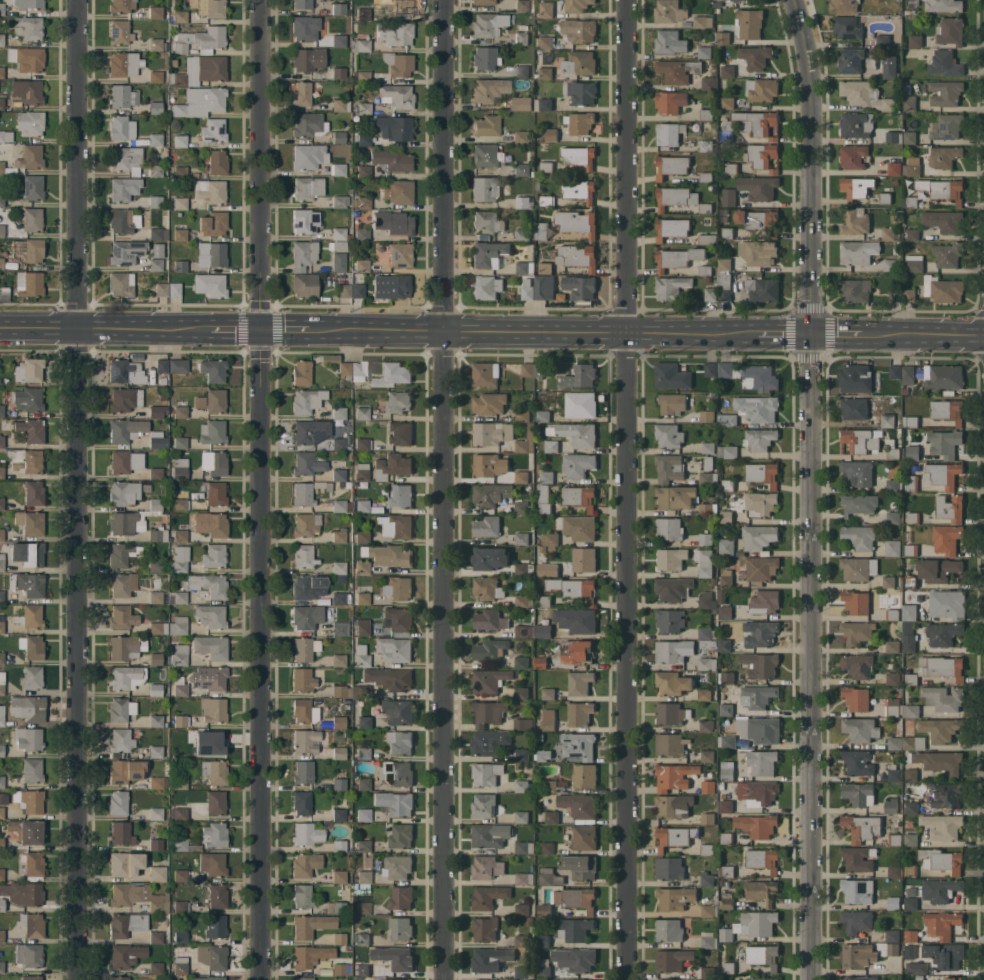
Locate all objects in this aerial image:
building: (736, 0)
building: (483, 2)
building: (25, 4)
building: (302, 4)
building: (522, 5)
building: (577, 5)
building: (844, 5)
building: (945, 5)
building: (121, 6)
building: (209, 7)
building: (402, 7)
building: (2, 9)
building: (338, 9)
building: (547, 9)
building: (717, 9)
building: (669, 11)
building: (155, 13)
building: (363, 14)
building: (180, 17)
building: (703, 21)
building: (749, 23)
building: (487, 25)
building: (848, 26)
building: (173, 27)
building: (27, 28)
building: (302, 29)
building: (579, 29)
building: (951, 30)
building: (119, 32)
building: (394, 33)
building: (724, 37)
building: (521, 38)
building: (2, 40)
building: (200, 40)
building: (883, 40)
building: (916, 40)
building: (338, 41)
building: (670, 41)
building: (544, 42)
building: (155, 45)
building: (361, 46)
building: (723, 46)
building: (704, 52)
building: (756, 56)
building: (485, 58)
building: (26, 59)
building: (308, 59)
building: (851, 60)
building: (580, 62)
building: (945, 63)
building: (123, 64)
building: (398, 64)
building: (200, 70)
building: (522, 70)
building: (677, 70)
building: (728, 70)
building: (1, 72)
building: (890, 72)
building: (338, 73)
building: (546, 73)
building: (155, 77)
building: (363, 77)
building: (530, 80)
building: (708, 82)
building: (761, 89)
building: (907, 89)
building: (489, 90)
building: (580, 91)
building: (27, 92)
building: (860, 92)
building: (946, 92)
building: (301, 94)
building: (122, 96)
building: (396, 96)
building: (670, 101)
building: (200, 102)
building: (521, 102)
building: (727, 102)
building: (1, 103)
building: (910, 103)
building: (544, 104)
building: (888, 104)
building: (340, 105)
building: (155, 108)
building: (362, 109)
building: (706, 114)
building: (580, 122)
building: (758, 122)
building: (30, 123)
building: (856, 124)
building: (309, 125)
building: (486, 126)
building: (947, 126)
building: (393, 127)
building: (121, 128)
building: (727, 130)
building: (213, 131)
building: (669, 133)
building: (551, 134)
building: (522, 136)
building: (893, 136)
building: (6, 137)
building: (338, 137)
building: (908, 137)
building: (155, 140)
building: (364, 140)
building: (180, 141)
building: (709, 145)
building: (486, 156)
building: (579, 156)
building: (763, 156)
building: (853, 156)
building: (944, 156)
building: (31, 157)
building: (309, 157)
building: (126, 160)
building: (391, 160)
building: (217, 162)
building: (671, 165)
building: (546, 166)
building: (912, 166)
building: (2, 168)
building: (731, 168)
building: (894, 168)
building: (523, 169)
building: (155, 170)
building: (339, 170)
building: (363, 171)
building: (180, 172)
building: (706, 176)
building: (896, 182)
building: (538, 185)
building: (33, 187)
building: (759, 187)
building: (856, 187)
building: (307, 188)
building: (485, 189)
building: (579, 189)
building: (942, 189)
building: (122, 190)
building: (210, 192)
building: (398, 192)
building: (674, 197)
building: (729, 197)
building: (885, 197)
building: (2, 200)
building: (546, 200)
building: (155, 201)
building: (339, 201)
building: (361, 202)
building: (524, 202)
building: (180, 203)
building: (706, 208)
building: (32, 219)
building: (944, 220)
building: (120, 221)
building: (301, 221)
building: (488, 221)
building: (762, 221)
building: (577, 222)
building: (856, 222)
building: (393, 223)
building: (213, 224)
building: (672, 228)
building: (541, 230)
building: (2, 231)
building: (728, 232)
building: (891, 233)
building: (913, 233)
building: (158, 234)
building: (340, 234)
building: (522, 234)
building: (180, 235)
building: (362, 235)
building: (708, 239)
building: (338, 246)
building: (34, 250)
building: (157, 250)
building: (858, 251)
building: (125, 252)
building: (761, 252)
building: (211, 254)
building: (491, 254)
building: (948, 254)
building: (302, 255)
building: (400, 255)
building: (578, 256)
building: (678, 257)
building: (338, 262)
building: (914, 263)
building: (1, 264)
building: (725, 264)
building: (155, 265)
building: (893, 265)
building: (180, 266)
building: (362, 266)
building: (546, 267)
building: (526, 268)
building: (705, 270)
building: (708, 278)
building: (29, 284)
building: (121, 284)
building: (210, 285)
building: (305, 286)
building: (391, 286)
building: (487, 286)
building: (580, 286)
building: (725, 286)
building: (545, 287)
building: (671, 287)
building: (174, 289)
building: (527, 289)
building: (762, 289)
building: (855, 289)
building: (944, 289)
building: (161, 290)
building: (344, 291)
building: (358, 291)
building: (711, 293)
building: (896, 295)
building: (909, 295)
road: (106, 330)
road: (235, 331)
road: (286, 331)
road: (534, 332)
road: (783, 333)
traffic signals: (812, 334)
road: (839, 334)
road: (925, 334)
building: (161, 366)
building: (178, 366)
building: (541, 368)
building: (345, 369)
building: (528, 369)
building: (711, 369)
building: (726, 369)
building: (28, 370)
building: (213, 370)
building: (360, 370)
building: (125, 371)
building: (896, 371)
building: (301, 373)
building: (486, 373)
building: (667, 374)
building: (909, 374)
building: (392, 375)
building: (580, 376)
building: (858, 376)
building: (944, 376)
building: (759, 377)
building: (162, 381)
building: (906, 390)
building: (538, 394)
building: (162, 397)
building: (125, 399)
building: (27, 400)
building: (212, 401)
building: (307, 401)
building: (397, 401)
building: (490, 403)
building: (582, 403)
building: (673, 403)
building: (758, 407)
building: (857, 407)
building: (180, 409)
building: (947, 409)
building: (2, 411)
building: (157, 411)
building: (338, 413)
building: (362, 413)
building: (523, 414)
building: (543, 415)
building: (708, 416)
building: (728, 419)
building: (888, 419)
building: (910, 421)
building: (31, 430)
building: (125, 430)
building: (551, 430)
building: (311, 431)
building: (212, 432)
building: (400, 433)
building: (487, 433)
building: (578, 433)
building: (906, 433)
building: (669, 435)
building: (760, 437)
building: (157, 440)
building: (527, 440)
building: (861, 440)
building: (2, 442)
building: (945, 442)
building: (180, 443)
building: (338, 443)
building: (362, 444)
building: (552, 446)
building: (709, 447)
building: (892, 449)
building: (728, 450)
building: (913, 450)
building: (26, 461)
building: (125, 461)
building: (709, 462)
building: (214, 463)
building: (309, 463)
building: (490, 464)
building: (578, 464)
building: (392, 466)
building: (670, 467)
building: (179, 469)
building: (857, 471)
building: (2, 472)
building: (361, 472)
building: (763, 472)
building: (943, 473)
building: (155, 474)
building: (338, 475)
building: (522, 476)
building: (546, 476)
building: (708, 477)
building: (911, 482)
building: (726, 484)
building: (323, 485)
building: (348, 485)
building: (893, 485)
road: (257, 489)
road: (445, 489)
road: (629, 489)
road: (811, 489)
road: (72, 490)
building: (214, 492)
building: (34, 493)
building: (123, 493)
building: (485, 494)
building: (302, 495)
building: (400, 495)
building: (579, 496)
building: (676, 496)
building: (179, 499)
building: (544, 499)
building: (760, 502)
building: (859, 503)
building: (1, 504)
building: (155, 505)
building: (340, 506)
building: (362, 506)
building: (524, 506)
building: (950, 507)
building: (706, 508)
building: (727, 516)
building: (893, 517)
building: (913, 517)
building: (30, 522)
building: (125, 523)
building: (213, 524)
building: (306, 525)
building: (396, 525)
building: (487, 526)
building: (578, 527)
building: (669, 528)
building: (180, 533)
building: (2, 534)
building: (158, 534)
building: (759, 535)
building: (339, 536)
building: (859, 536)
building: (362, 537)
building: (947, 537)
building: (522, 538)
building: (706, 538)
building: (550, 540)
building: (727, 546)
building: (893, 548)
building: (911, 549)
building: (28, 554)
building: (118, 555)
building: (390, 555)
building: (214, 556)
building: (303, 556)
building: (487, 556)
building: (671, 558)
building: (179, 559)
building: (584, 559)
building: (2, 562)
building: (705, 562)
building: (155, 566)
building: (338, 567)
building: (362, 567)
building: (759, 567)
building: (858, 567)
building: (524, 568)
building: (548, 569)
building: (938, 569)
building: (727, 580)
building: (714, 581)
building: (889, 581)
building: (909, 581)
building: (902, 582)
building: (28, 584)
building: (122, 585)
building: (209, 585)
building: (308, 587)
building: (398, 587)
building: (488, 587)
building: (573, 587)
building: (673, 588)
building: (1, 596)
building: (158, 597)
building: (180, 597)
building: (340, 598)
building: (362, 599)
building: (524, 600)
building: (544, 600)
building: (707, 600)
building: (766, 600)
building: (856, 601)
building: (948, 603)
building: (713, 610)
building: (725, 611)
building: (910, 612)
building: (892, 613)
building: (30, 616)
building: (211, 616)
building: (122, 617)
building: (307, 617)
building: (398, 619)
building: (490, 619)
building: (583, 620)
building: (670, 620)
building: (1, 624)
building: (178, 625)
building: (362, 627)
building: (157, 628)
building: (340, 629)
building: (541, 630)
building: (525, 631)
building: (552, 631)
building: (857, 631)
building: (707, 632)
building: (944, 632)
building: (761, 633)
building: (909, 636)
building: (707, 643)
building: (725, 645)
building: (892, 646)
building: (32, 647)
building: (125, 647)
building: (211, 647)
building: (306, 648)
building: (394, 649)
building: (491, 649)
building: (674, 650)
building: (580, 651)
building: (179, 655)
building: (2, 658)
building: (156, 659)
building: (339, 660)
building: (363, 661)
building: (521, 662)
building: (541, 662)
building: (707, 663)
building: (761, 664)
building: (859, 665)
building: (937, 668)
building: (126, 677)
building: (728, 677)
building: (893, 677)
building: (31, 678)
building: (208, 678)
building: (389, 678)
building: (302, 680)
building: (490, 680)
building: (580, 682)
building: (673, 682)
building: (1, 686)
building: (179, 687)
building: (155, 689)
building: (341, 691)
building: (361, 692)
building: (521, 692)
building: (549, 693)
building: (705, 694)
building: (758, 695)
building: (943, 697)
building: (856, 698)
building: (894, 706)
building: (26, 708)
building: (120, 709)
building: (726, 709)
building: (213, 710)
building: (912, 710)
building: (304, 711)
building: (397, 711)
building: (489, 712)
building: (580, 713)
building: (671, 713)
building: (1, 716)
building: (155, 720)
building: (548, 720)
building: (180, 721)
building: (338, 722)
building: (363, 722)
building: (523, 723)
building: (706, 724)
building: (165, 725)
building: (940, 728)
building: (760, 729)
building: (860, 729)
building: (28, 739)
building: (121, 740)
building: (348, 740)
building: (214, 741)
building: (305, 741)
building: (728, 741)
building: (399, 742)
building: (490, 742)
building: (895, 742)
building: (914, 742)
building: (671, 744)
building: (580, 745)
building: (1, 751)
building: (155, 752)
building: (180, 752)
building: (339, 753)
building: (363, 754)
building: (522, 755)
building: (541, 755)
building: (707, 755)
building: (939, 760)
building: (762, 762)
building: (859, 762)
building: (727, 770)
building: (32, 771)
building: (125, 771)
building: (214, 772)
building: (303, 772)
building: (396, 773)
building: (486, 773)
building: (895, 774)
building: (912, 774)
building: (585, 775)
building: (674, 776)
building: (1, 782)
building: (178, 782)
building: (155, 783)
building: (338, 784)
building: (362, 784)
building: (931, 784)
building: (523, 785)
building: (721, 785)
building: (556, 786)
building: (709, 786)
building: (758, 792)
building: (859, 793)
building: (947, 795)
building: (3, 798)
building: (31, 802)
building: (118, 803)
building: (215, 803)
building: (301, 803)
building: (396, 803)
building: (579, 804)
building: (483, 805)
building: (726, 805)
building: (891, 805)
building: (669, 806)
building: (911, 807)
building: (710, 809)
building: (1, 813)
building: (155, 814)
building: (180, 814)
building: (339, 815)
building: (363, 815)
building: (522, 816)
building: (552, 817)
building: (708, 818)
building: (763, 826)
building: (943, 826)
building: (862, 827)
building: (26, 831)
building: (121, 834)
building: (214, 835)
building: (401, 835)
building: (486, 836)
building: (674, 836)
building: (314, 837)
building: (585, 837)
building: (727, 837)
building: (895, 839)
building: (911, 839)
building: (1, 844)
building: (155, 845)
building: (183, 845)
building: (363, 846)
building: (524, 847)
building: (547, 847)
building: (707, 849)
building: (859, 858)
building: (762, 859)
building: (367, 860)
building: (941, 860)
building: (32, 863)
building: (125, 864)
building: (212, 864)
building: (305, 864)
building: (398, 866)
building: (580, 866)
building: (487, 867)
building: (670, 868)
building: (726, 870)
building: (911, 870)
building: (895, 871)
building: (157, 874)
building: (1, 875)
building: (180, 876)
building: (338, 876)
building: (550, 876)
building: (364, 878)
building: (524, 878)
building: (707, 878)
building: (941, 889)
building: (360, 890)
building: (762, 890)
building: (858, 890)
building: (23, 893)
building: (137, 896)
building: (217, 896)
building: (302, 896)
building: (488, 896)
building: (401, 897)
building: (675, 897)
building: (575, 898)
building: (727, 900)
building: (894, 903)
building: (911, 903)
building: (2, 905)
building: (180, 907)
building: (335, 907)
building: (363, 908)
building: (522, 909)
building: (545, 910)
building: (709, 910)
building: (530, 921)
building: (857, 922)
building: (942, 923)
building: (32, 925)
building: (126, 925)
building: (312, 925)
building: (752, 925)
building: (215, 927)
building: (910, 927)
building: (401, 928)
building: (485, 928)
building: (575, 928)
building: (669, 930)
building: (892, 935)
building: (2, 936)
building: (155, 937)
building: (180, 938)
building: (339, 938)
building: (363, 939)
building: (709, 939)
building: (522, 940)
building: (543, 940)
building: (889, 948)
building: (945, 953)
building: (28, 955)
building: (126, 955)
building: (532, 955)
building: (763, 955)
building: (858, 955)
building: (310, 956)
building: (217, 958)
building: (401, 958)
building: (487, 959)
building: (672, 959)
building: (581, 960)
building: (180, 967)
building: (544, 967)
building: (727, 967)
building: (916, 967)
building: (1, 968)
building: (155, 969)
building: (342, 969)
building: (361, 969)
building: (525, 971)
building: (708, 972)
building: (920, 977)
building: (31, 978)
building: (118, 978)
building: (214, 978)
building: (304, 978)
building: (357, 978)
building: (861, 978)
building: (954, 978)
building: (395, 979)
building: (485, 979)
building: (585, 979)
building: (763, 979)

